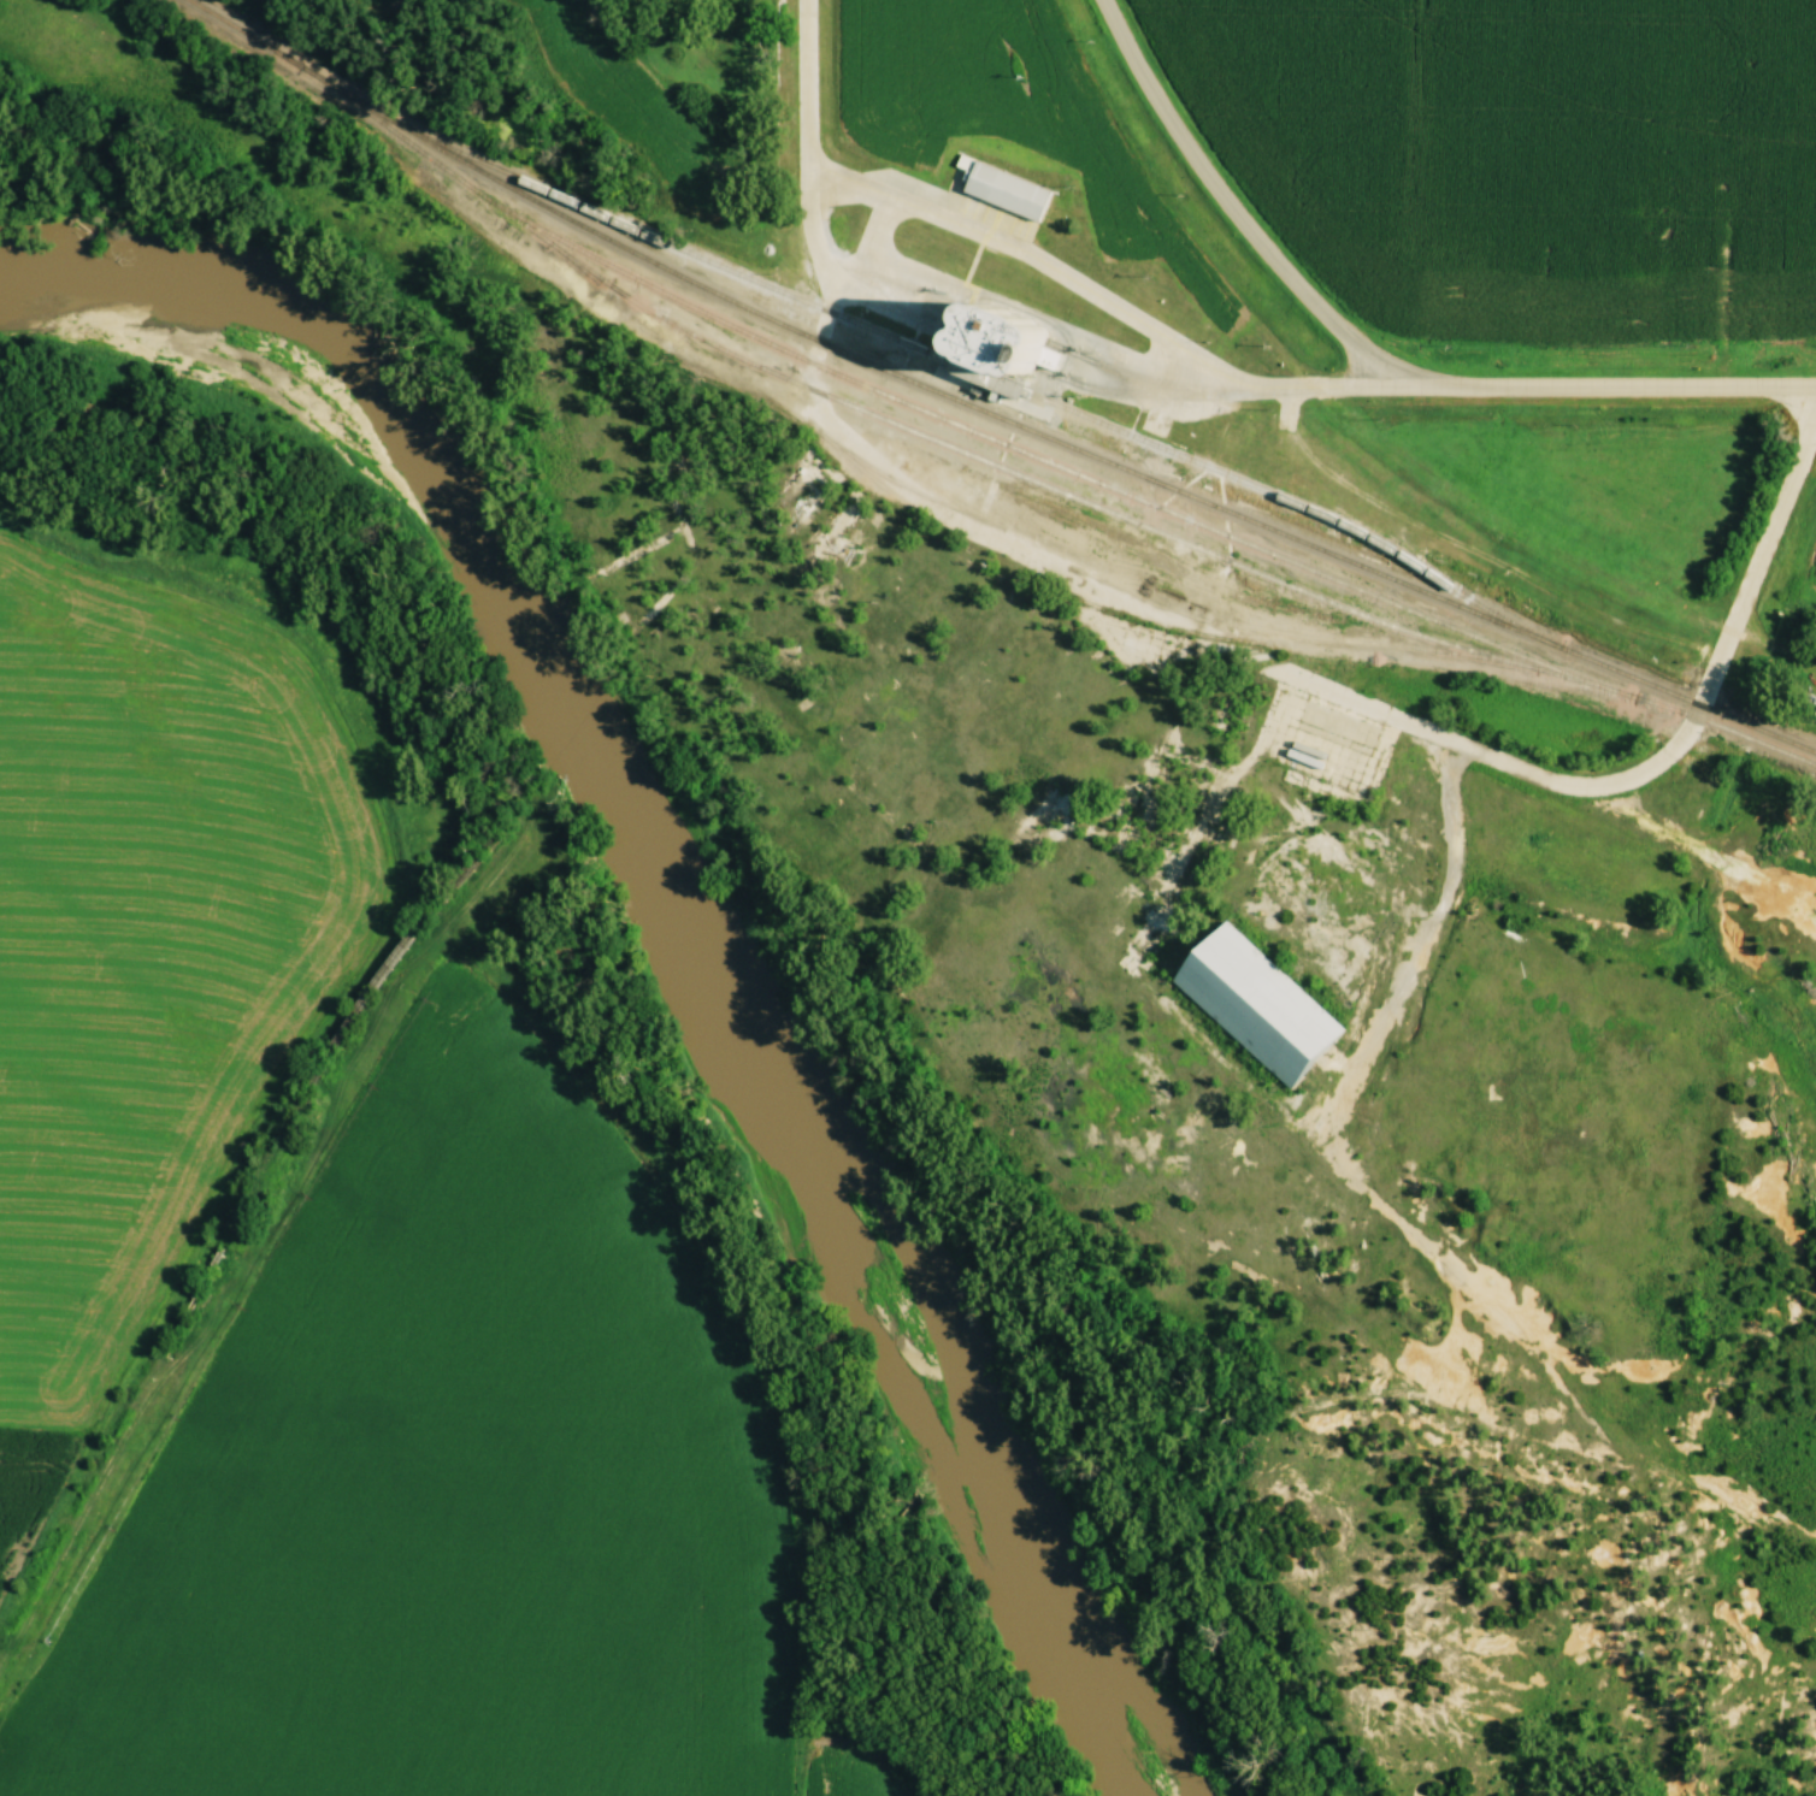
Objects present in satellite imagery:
building: (996, 189)
road: (1233, 209)
building: (871, 226)
road: (904, 270)
road: (1110, 305)
railway: (974, 371)
road: (1611, 388)
railway: (920, 412)
railway: (984, 414)
railway: (1016, 473)
road: (1343, 696)
railway: (1693, 717)
river: (701, 906)
building: (1252, 1002)

